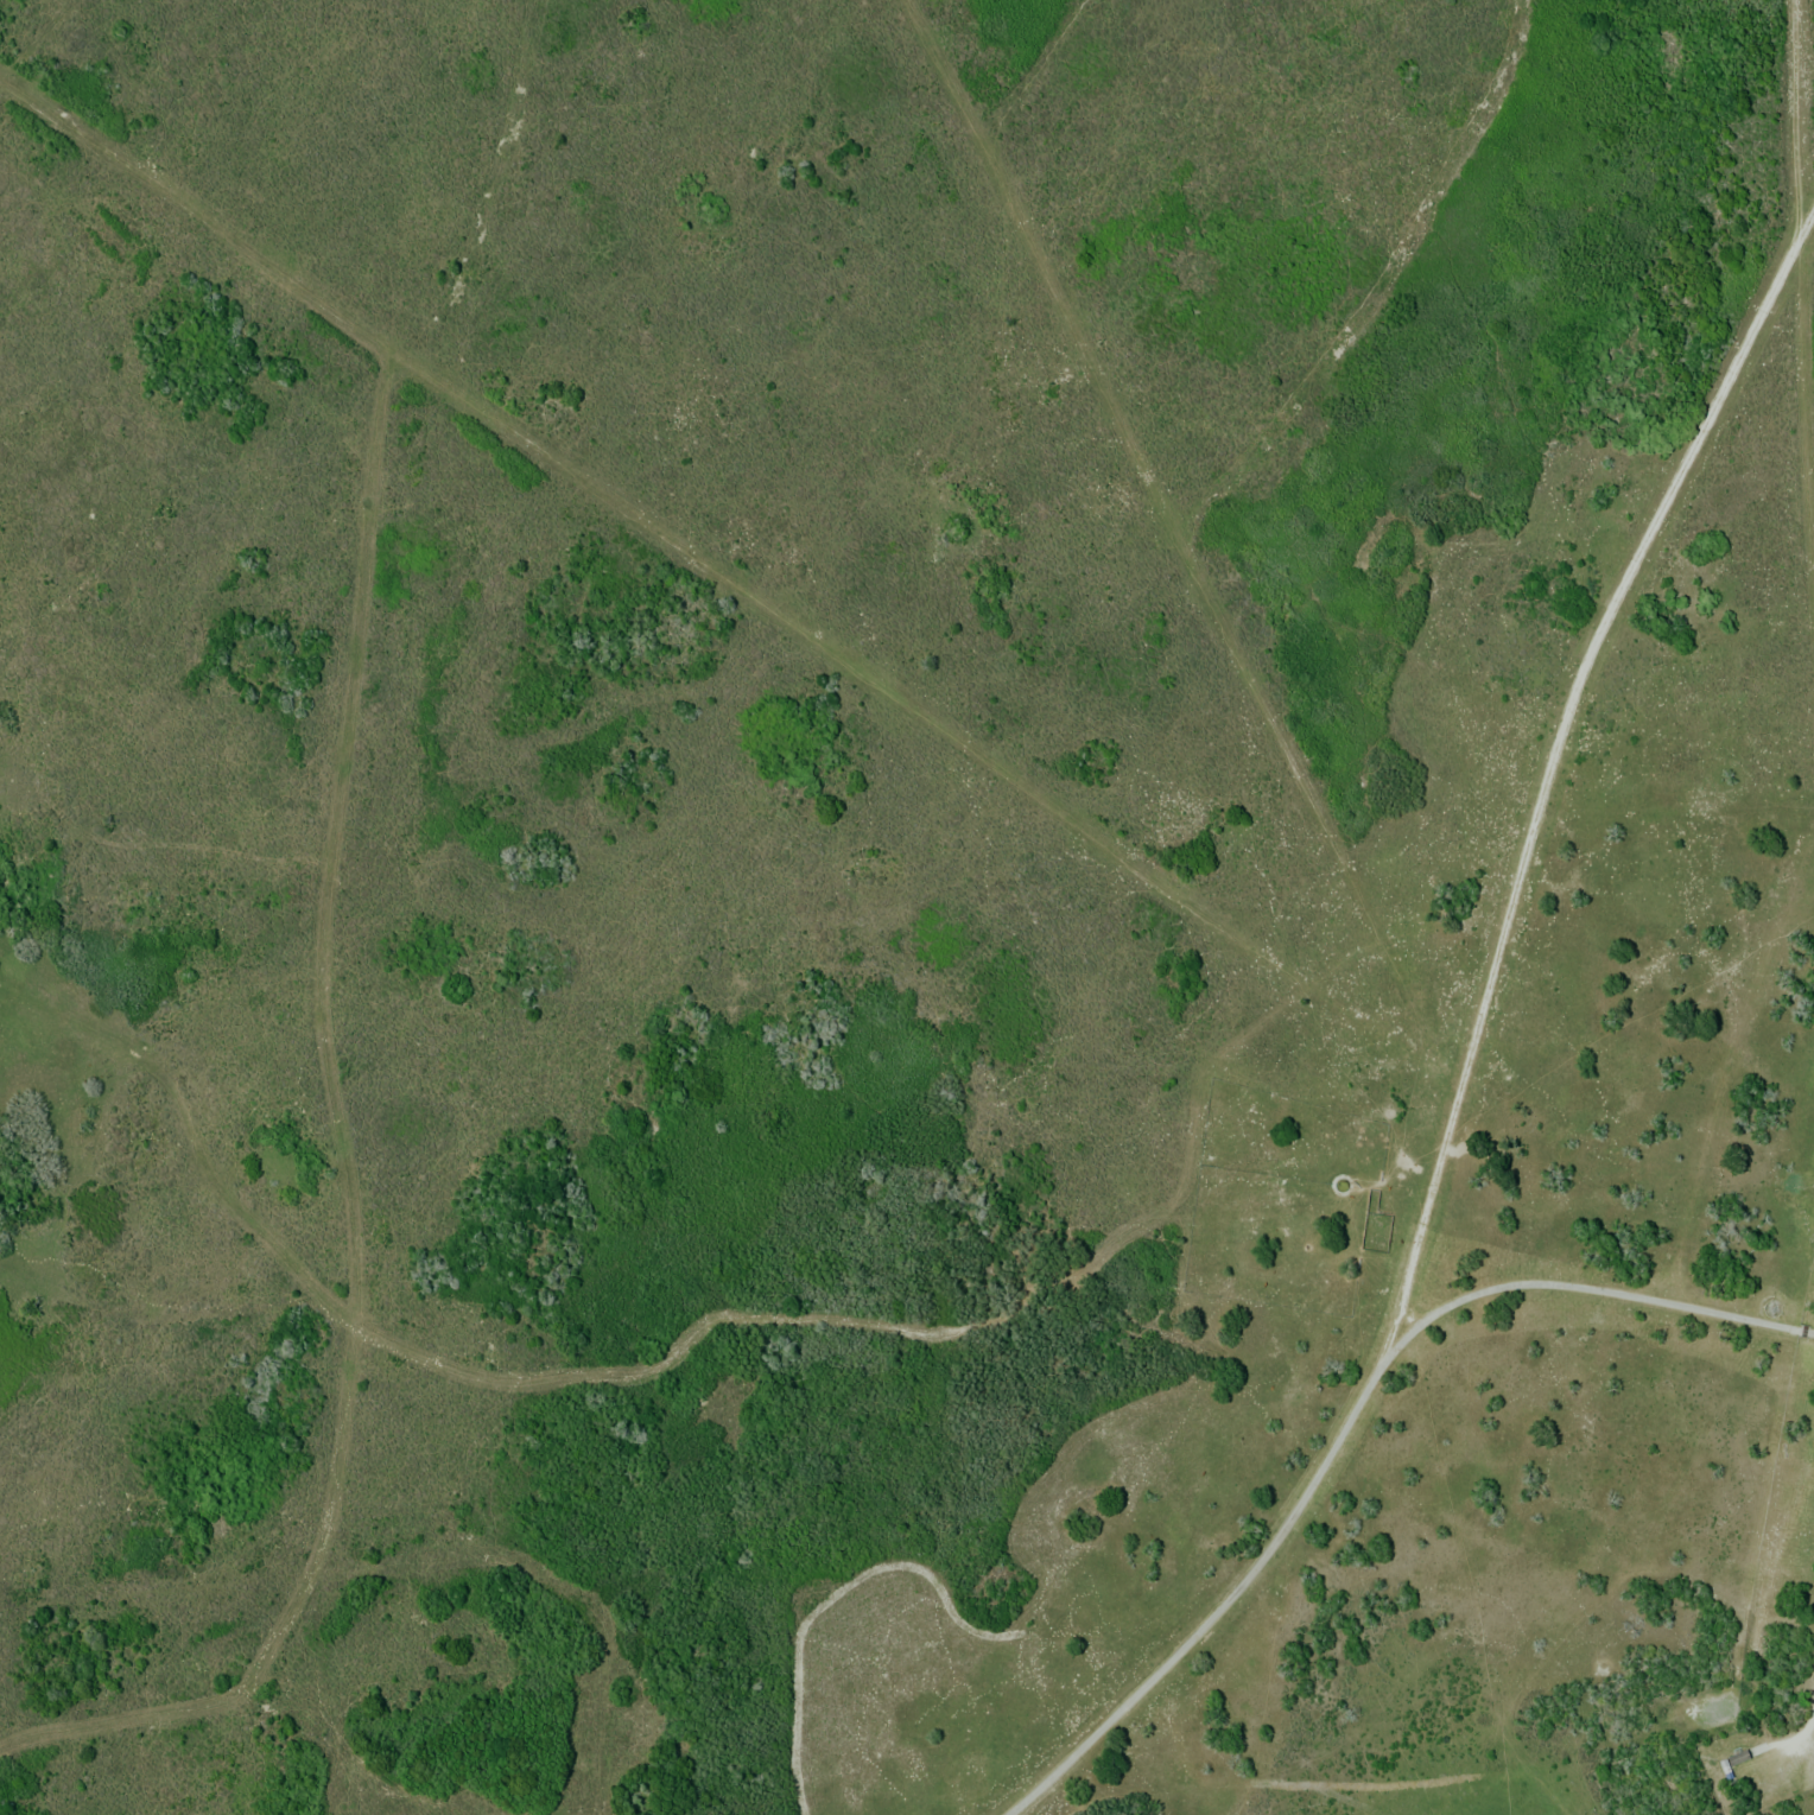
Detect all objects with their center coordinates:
road: (1498, 952)
building: (1734, 1762)

